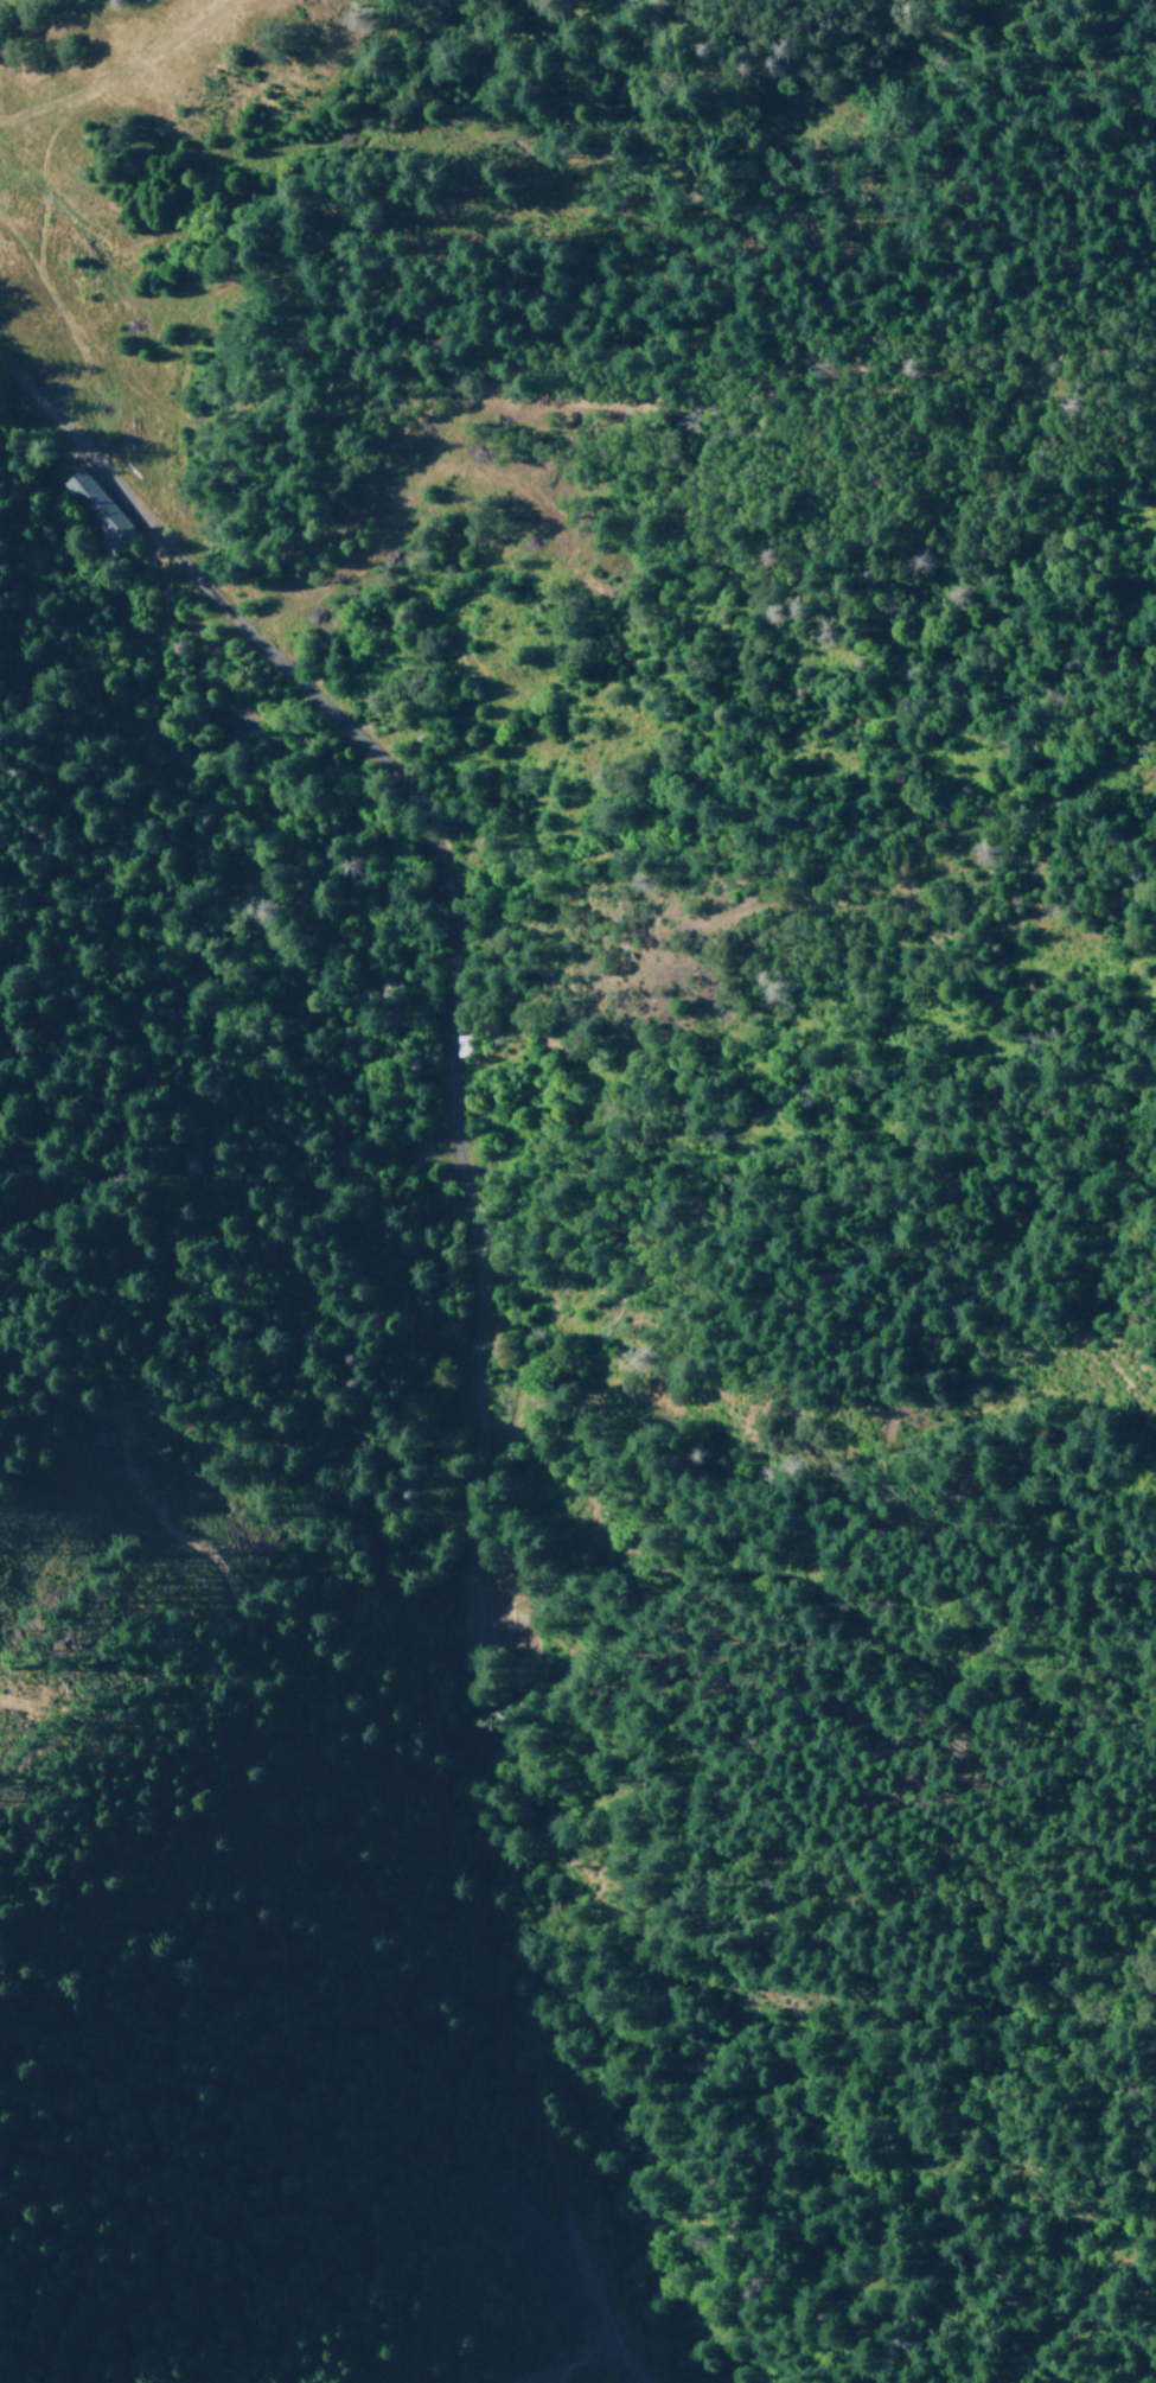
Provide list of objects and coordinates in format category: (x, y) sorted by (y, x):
building: (96, 509)

